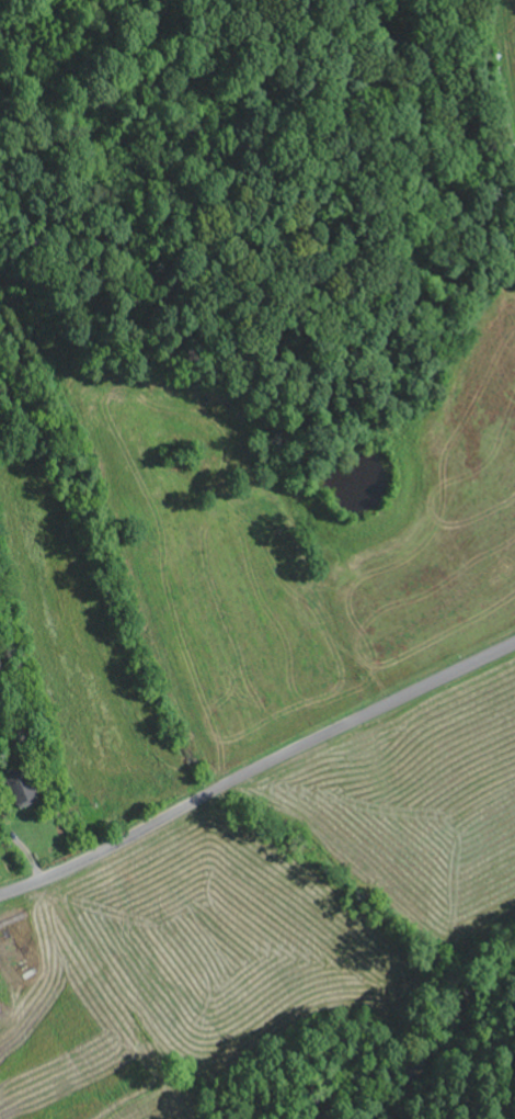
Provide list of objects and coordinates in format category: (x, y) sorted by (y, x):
road: (256, 766)
building: (16, 792)

